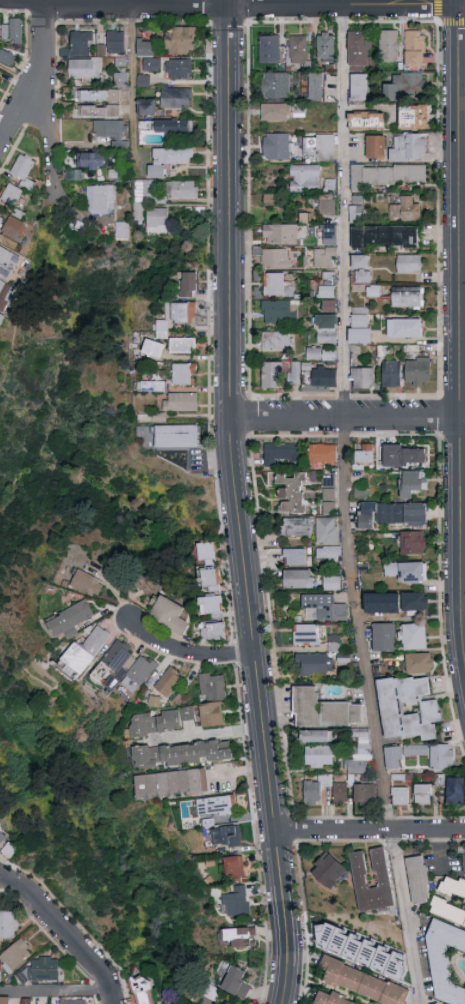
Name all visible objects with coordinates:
road: (4, 2)
road: (115, 2)
road: (345, 2)
road: (232, 6)
building: (1, 24)
building: (7, 30)
building: (16, 30)
building: (180, 39)
building: (115, 43)
building: (81, 44)
building: (389, 44)
building: (326, 46)
building: (269, 48)
building: (360, 48)
building: (145, 49)
building: (298, 49)
building: (415, 49)
building: (6, 57)
building: (120, 61)
building: (151, 64)
building: (85, 68)
building: (179, 68)
road: (133, 77)
building: (121, 78)
building: (143, 81)
building: (275, 84)
building: (405, 85)
building: (359, 86)
building: (316, 87)
building: (99, 95)
building: (176, 97)
road: (48, 101)
road: (23, 104)
building: (146, 106)
building: (299, 109)
building: (99, 110)
building: (275, 111)
building: (413, 116)
building: (366, 121)
building: (173, 126)
building: (112, 131)
building: (277, 146)
building: (375, 146)
building: (408, 146)
building: (322, 147)
building: (92, 160)
building: (168, 160)
building: (22, 167)
building: (76, 173)
building: (116, 173)
building: (386, 175)
building: (305, 177)
building: (147, 189)
building: (181, 189)
building: (12, 193)
building: (100, 199)
building: (271, 199)
building: (326, 204)
building: (405, 209)
road: (345, 211)
building: (355, 213)
building: (1, 220)
building: (157, 220)
building: (13, 225)
building: (122, 230)
building: (329, 231)
building: (280, 234)
building: (385, 236)
building: (324, 257)
building: (275, 259)
building: (8, 262)
building: (360, 262)
building: (409, 263)
building: (363, 277)
building: (188, 284)
building: (276, 285)
building: (326, 291)
building: (372, 291)
building: (3, 295)
building: (407, 297)
building: (277, 311)
building: (183, 312)
road: (461, 316)
building: (1, 318)
building: (405, 327)
building: (160, 328)
building: (326, 328)
building: (360, 329)
building: (276, 341)
building: (182, 344)
building: (153, 348)
building: (321, 354)
building: (417, 371)
building: (294, 372)
building: (391, 373)
building: (183, 374)
building: (271, 374)
building: (324, 377)
building: (362, 378)
building: (152, 386)
building: (180, 402)
road: (347, 418)
building: (176, 436)
building: (279, 452)
building: (365, 452)
building: (322, 454)
building: (404, 455)
building: (412, 483)
building: (360, 491)
building: (291, 493)
building: (329, 494)
road: (238, 503)
building: (392, 514)
building: (296, 526)
building: (326, 530)
building: (413, 543)
building: (206, 553)
building: (328, 553)
building: (295, 556)
building: (408, 571)
building: (209, 579)
building: (298, 579)
building: (86, 582)
building: (331, 582)
road: (464, 584)
building: (415, 601)
building: (211, 605)
building: (323, 607)
building: (383, 613)
building: (168, 614)
building: (69, 620)
road: (362, 625)
building: (212, 631)
building: (306, 634)
building: (412, 636)
building: (383, 637)
building: (334, 646)
building: (85, 651)
road: (186, 653)
building: (345, 659)
building: (113, 660)
building: (419, 663)
building: (313, 664)
building: (138, 672)
building: (168, 681)
building: (212, 686)
building: (156, 699)
building: (389, 708)
building: (323, 710)
building: (211, 714)
building: (158, 722)
road: (210, 734)
building: (316, 736)
building: (182, 753)
building: (360, 755)
building: (318, 756)
building: (441, 762)
road: (241, 772)
building: (171, 783)
building: (315, 789)
building: (456, 790)
building: (341, 794)
building: (364, 794)
building: (422, 795)
building: (400, 796)
building: (214, 805)
road: (371, 832)
building: (226, 836)
building: (4, 837)
building: (464, 863)
building: (235, 867)
building: (381, 869)
building: (328, 870)
road: (2, 876)
building: (418, 879)
building: (453, 885)
building: (236, 902)
building: (448, 911)
road: (409, 918)
building: (10, 923)
road: (66, 930)
building: (236, 937)
building: (365, 947)
building: (20, 954)
building: (444, 961)
building: (47, 969)
building: (236, 982)
building: (363, 983)
road: (55, 987)
building: (144, 990)
building: (8, 999)
building: (330, 999)
building: (32, 1000)
building: (79, 1001)

